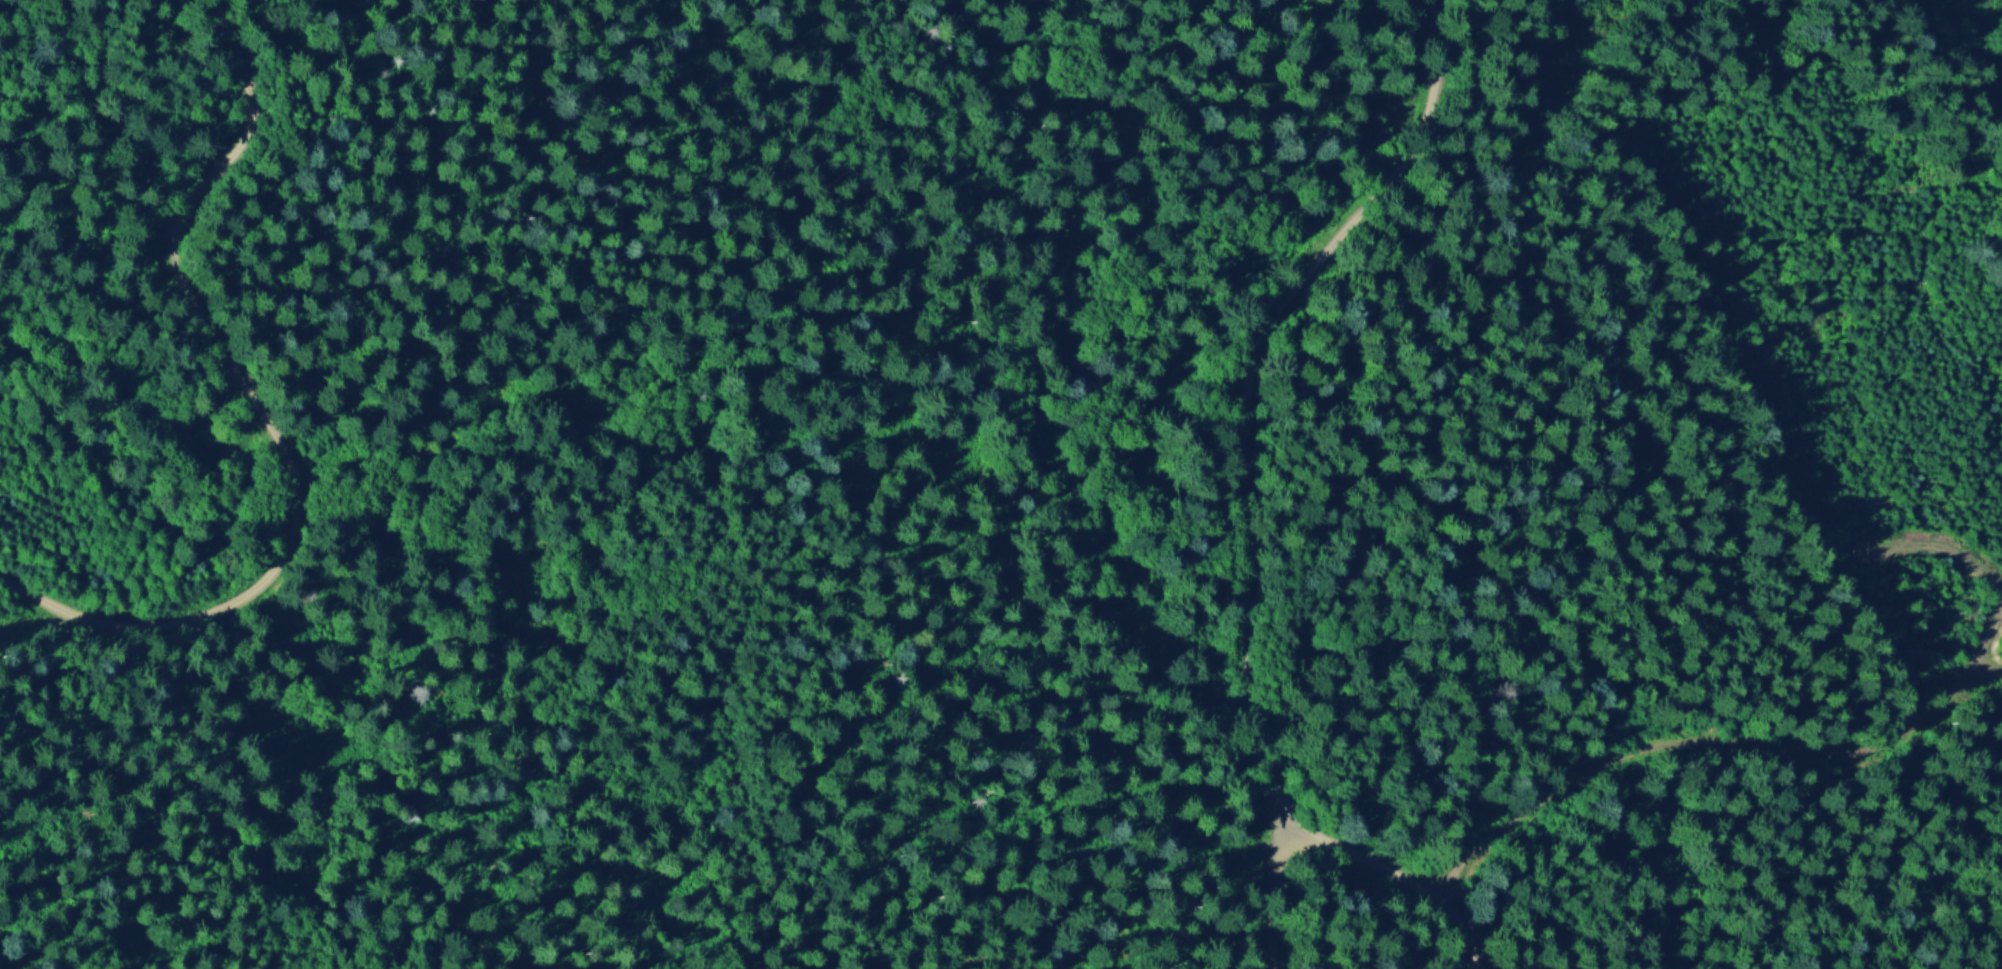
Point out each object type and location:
road: (1257, 382)
road: (262, 416)
road: (1930, 543)
road: (1983, 651)
road: (1704, 743)
road: (1393, 877)
road: (1285, 896)

